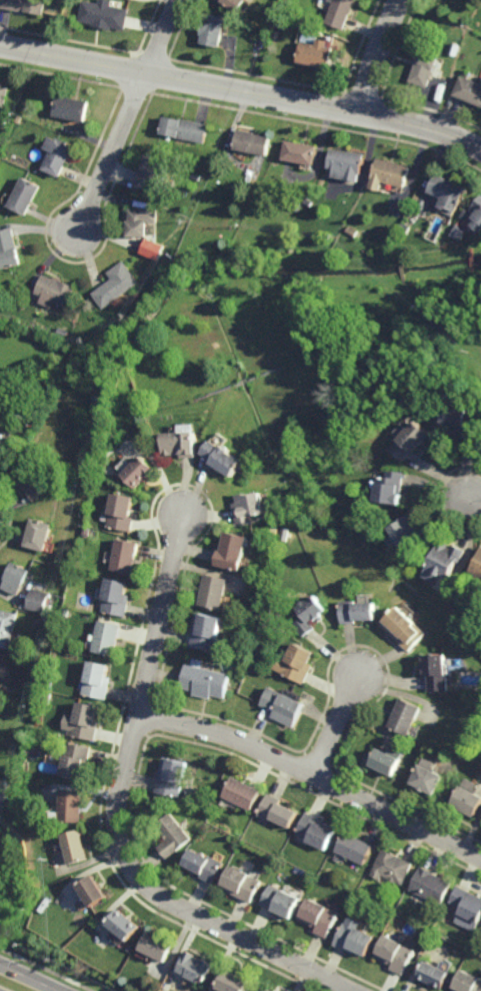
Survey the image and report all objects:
building: (60, 1)
building: (234, 4)
building: (24, 6)
building: (340, 13)
building: (104, 15)
building: (284, 22)
building: (213, 30)
building: (318, 30)
road: (163, 37)
building: (274, 39)
building: (315, 54)
road: (377, 55)
building: (424, 67)
building: (469, 89)
road: (242, 91)
building: (3, 95)
building: (72, 110)
building: (3, 122)
building: (185, 130)
building: (252, 143)
road: (113, 154)
building: (300, 154)
building: (58, 157)
building: (347, 164)
building: (153, 175)
building: (390, 175)
building: (197, 177)
building: (256, 188)
building: (190, 192)
building: (449, 194)
building: (25, 198)
building: (234, 199)
building: (308, 202)
building: (297, 208)
building: (477, 215)
building: (138, 224)
building: (353, 231)
building: (460, 234)
building: (8, 248)
building: (154, 249)
building: (169, 258)
building: (116, 283)
building: (56, 288)
building: (64, 330)
building: (443, 381)
building: (458, 413)
building: (408, 436)
building: (181, 440)
building: (223, 455)
building: (2, 461)
building: (136, 468)
building: (28, 479)
building: (390, 485)
road: (475, 500)
building: (247, 505)
building: (121, 510)
building: (408, 529)
building: (85, 530)
building: (36, 532)
building: (232, 549)
building: (124, 555)
building: (444, 559)
building: (478, 568)
building: (14, 577)
building: (213, 591)
building: (115, 596)
building: (37, 600)
building: (356, 610)
building: (309, 614)
building: (36, 624)
building: (6, 626)
building: (404, 627)
building: (206, 631)
building: (106, 637)
building: (0, 663)
building: (295, 663)
building: (36, 670)
building: (437, 671)
building: (97, 680)
building: (204, 680)
building: (1, 683)
building: (282, 706)
building: (405, 716)
building: (83, 722)
building: (21, 724)
road: (336, 725)
building: (384, 761)
building: (76, 762)
building: (11, 774)
building: (17, 774)
road: (315, 774)
building: (428, 777)
building: (172, 778)
building: (240, 794)
building: (468, 798)
building: (71, 807)
building: (276, 811)
road: (120, 816)
building: (316, 831)
building: (173, 836)
building: (354, 848)
building: (75, 849)
building: (204, 867)
building: (391, 867)
building: (241, 885)
building: (429, 885)
building: (93, 894)
building: (281, 903)
building: (467, 904)
building: (319, 917)
building: (124, 923)
building: (355, 938)
building: (157, 943)
building: (131, 946)
building: (395, 951)
building: (196, 964)
building: (433, 972)
road: (29, 977)
building: (233, 979)
building: (467, 981)
building: (266, 989)

